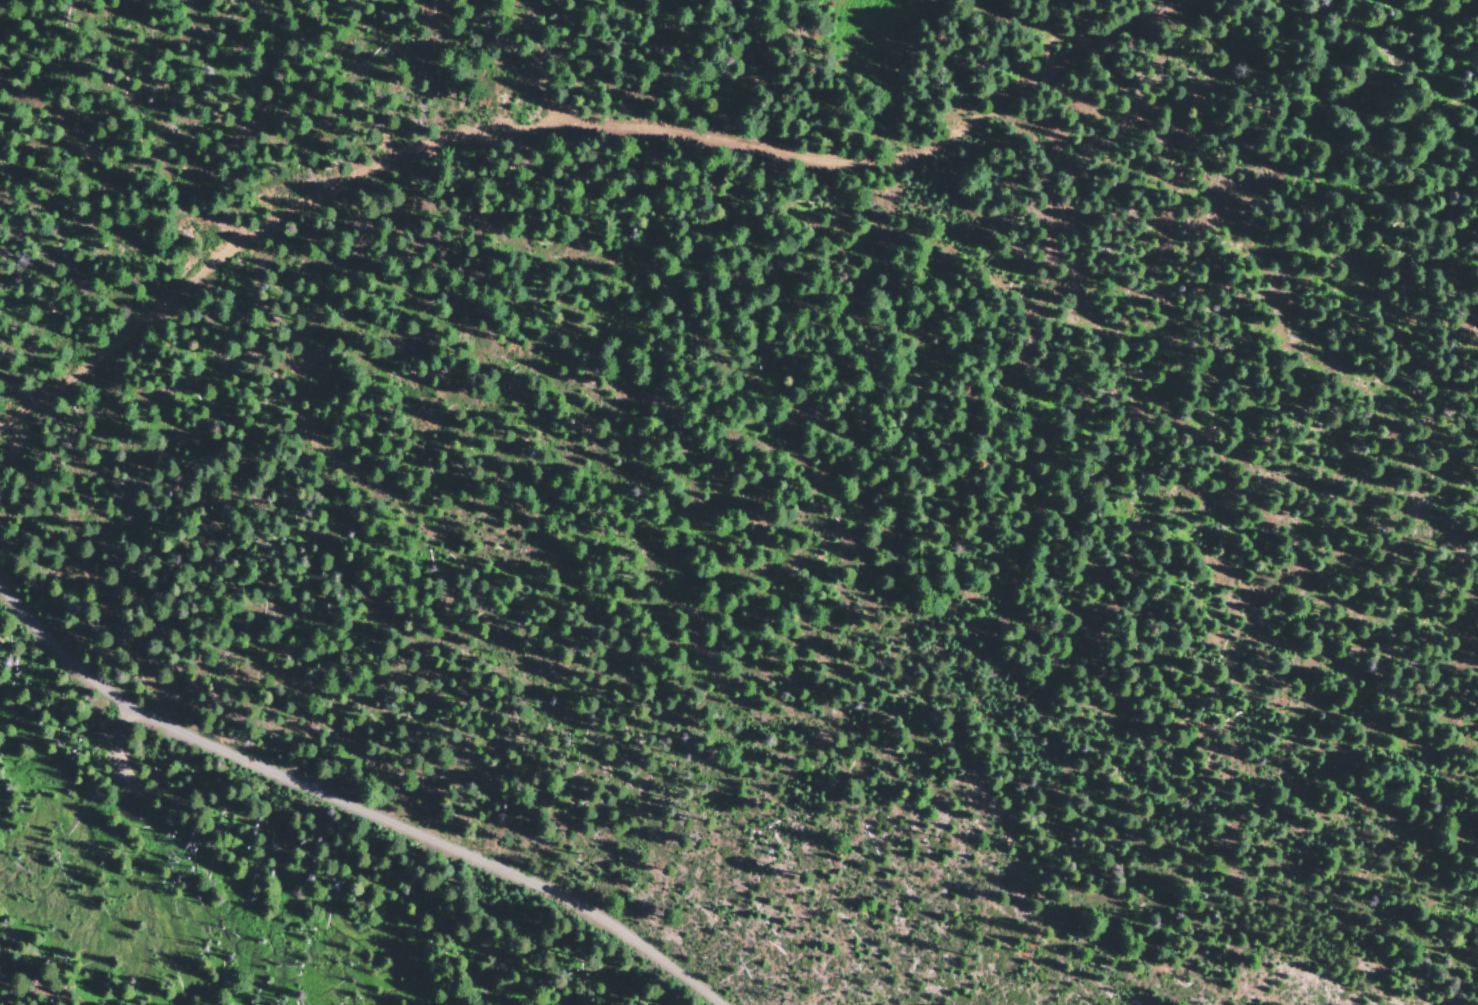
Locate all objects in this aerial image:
road: (431, 43)
road: (366, 848)

